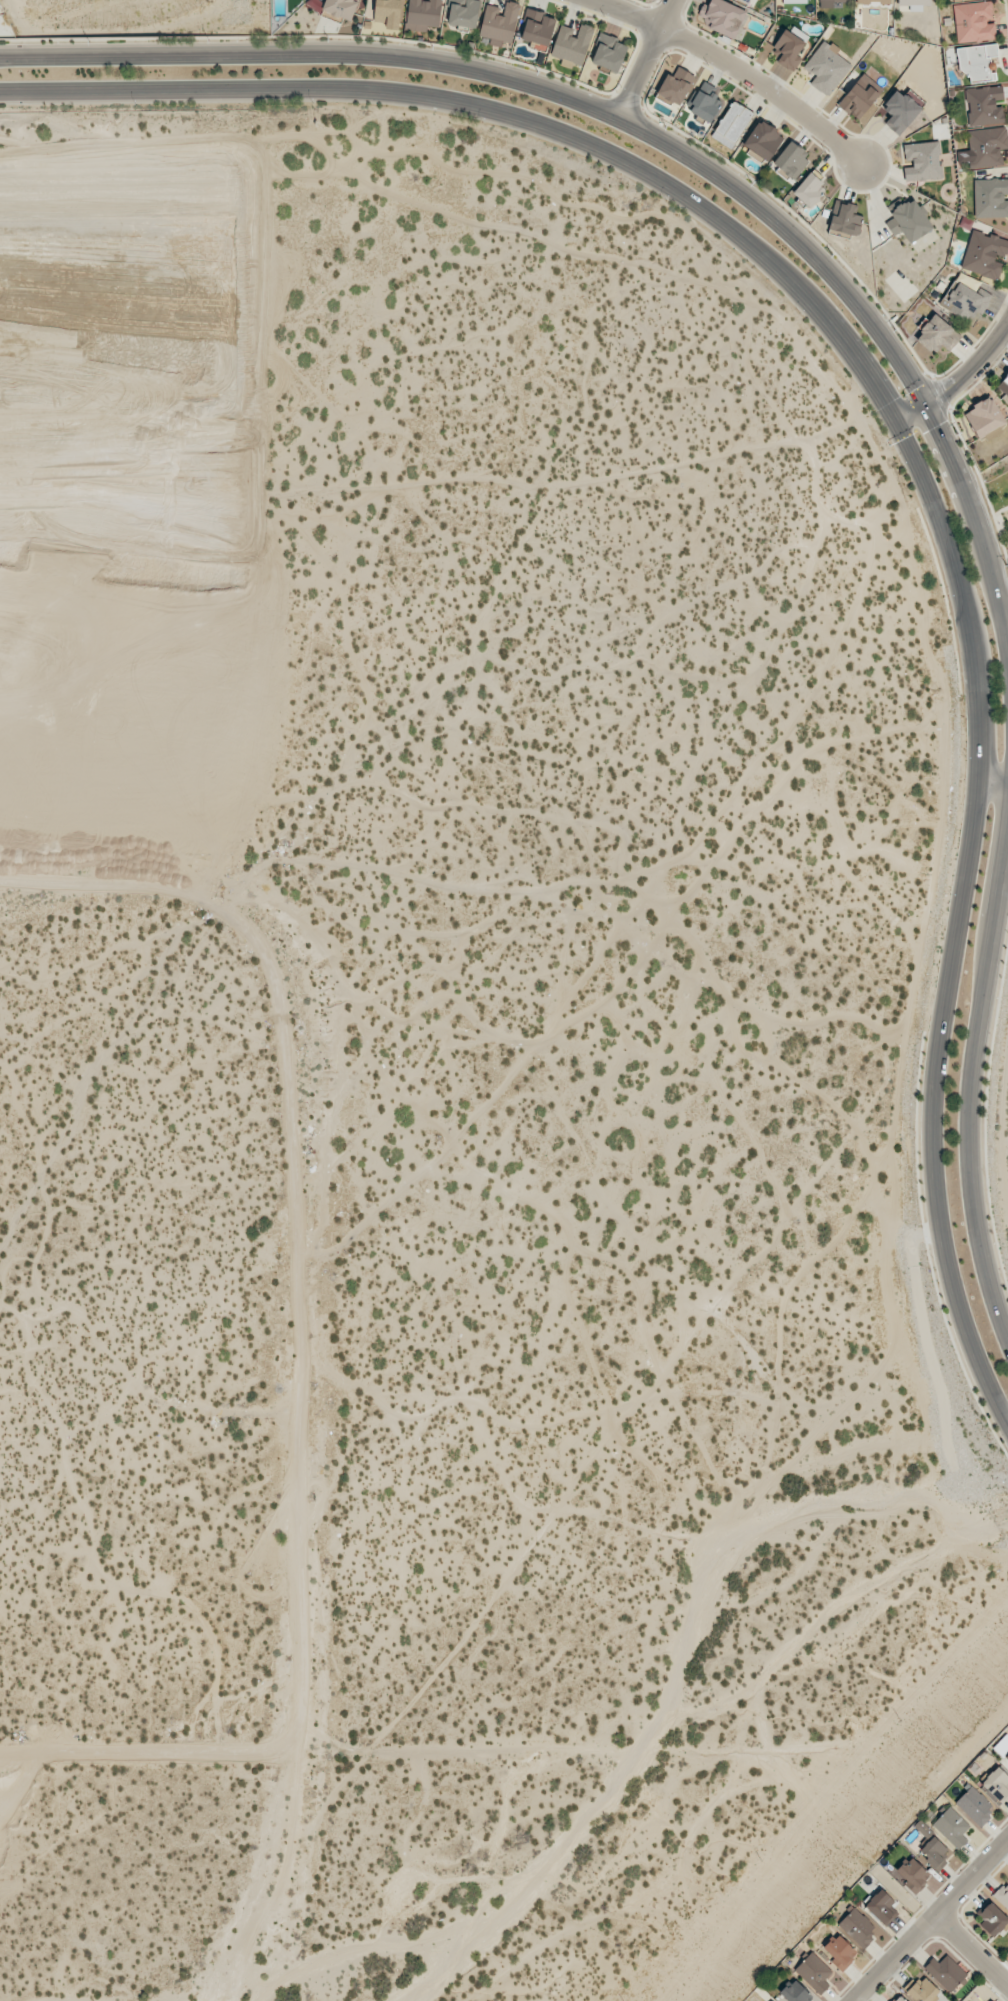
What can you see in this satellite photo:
building: (795, 1)
building: (874, 1)
building: (749, 2)
building: (832, 3)
building: (914, 4)
building: (341, 8)
building: (424, 12)
building: (388, 13)
building: (463, 13)
building: (725, 18)
building: (974, 22)
building: (499, 23)
building: (537, 29)
building: (572, 44)
building: (789, 47)
building: (609, 52)
road: (646, 59)
building: (976, 61)
road: (736, 67)
building: (826, 68)
building: (675, 86)
road: (45, 90)
building: (860, 96)
building: (705, 102)
building: (983, 105)
building: (900, 111)
building: (732, 124)
road: (649, 134)
building: (763, 141)
building: (986, 147)
building: (791, 160)
building: (922, 161)
building: (810, 189)
building: (990, 197)
building: (846, 219)
building: (908, 220)
building: (922, 241)
building: (985, 254)
building: (964, 300)
building: (937, 335)
road: (958, 380)
building: (1003, 386)
building: (984, 419)
road: (917, 468)
park: (996, 504)
road: (993, 781)
road: (971, 1081)
building: (1002, 1747)
building: (996, 1784)
building: (974, 1806)
building: (951, 1827)
building: (935, 1853)
building: (913, 1874)
building: (1003, 1896)
building: (882, 1907)
building: (992, 1920)
road: (934, 1922)
building: (857, 1927)
building: (839, 1951)
road: (973, 1951)
building: (814, 1972)
building: (946, 1972)
building: (922, 1990)
building: (795, 1992)
building: (898, 1998)

